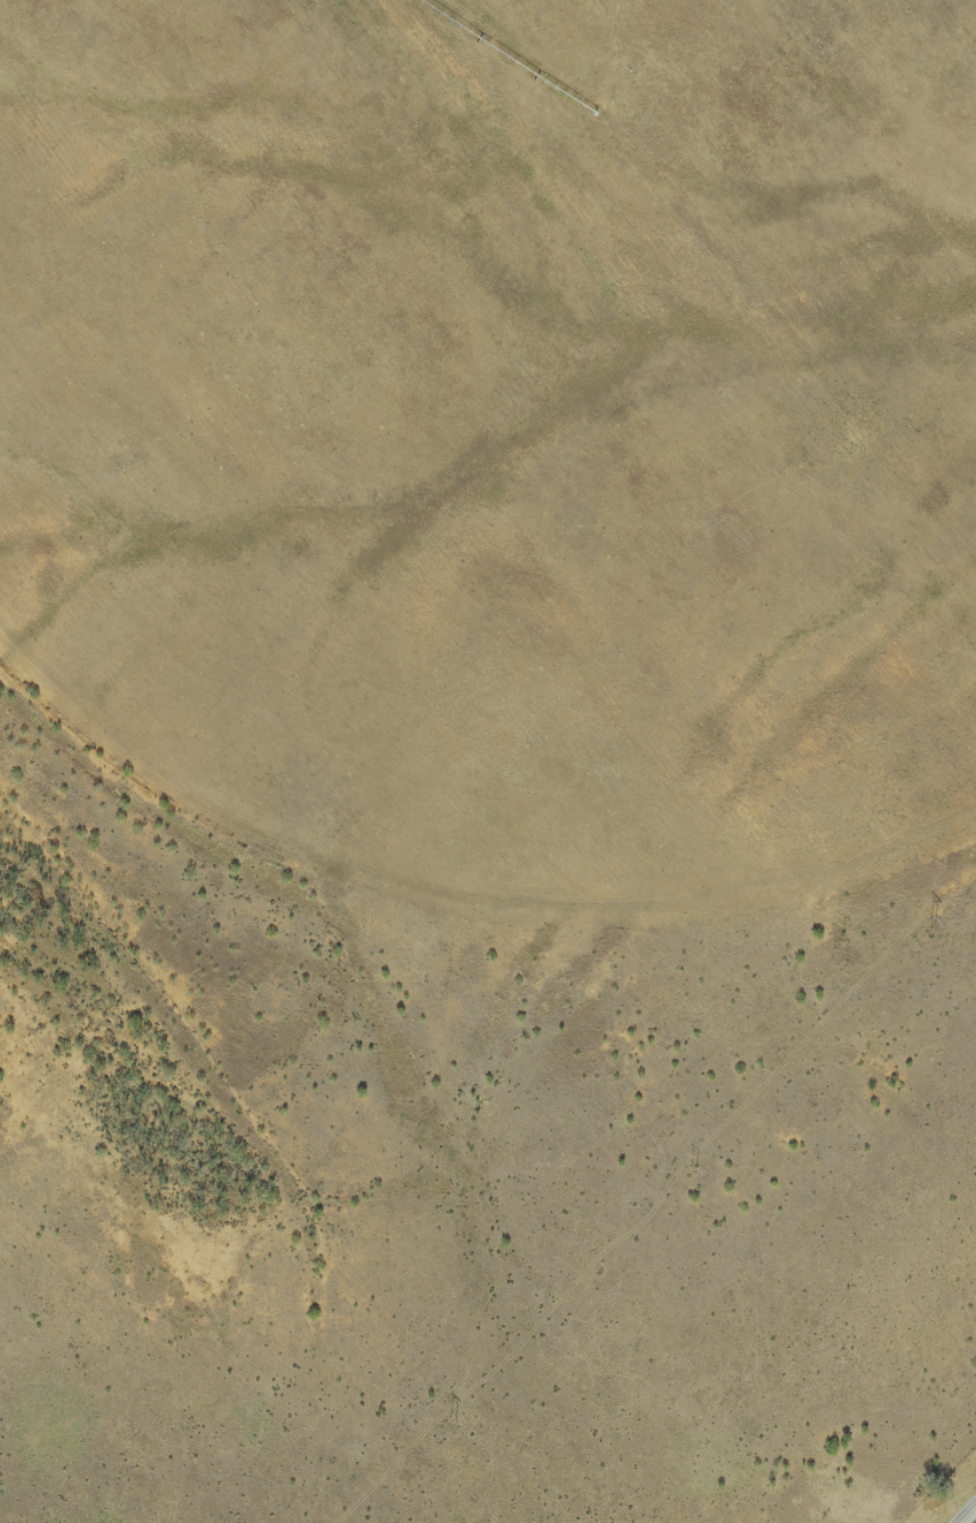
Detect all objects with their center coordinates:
power tower: (932, 923)
power tower: (692, 1171)
power tower: (452, 1420)
road: (969, 1516)

